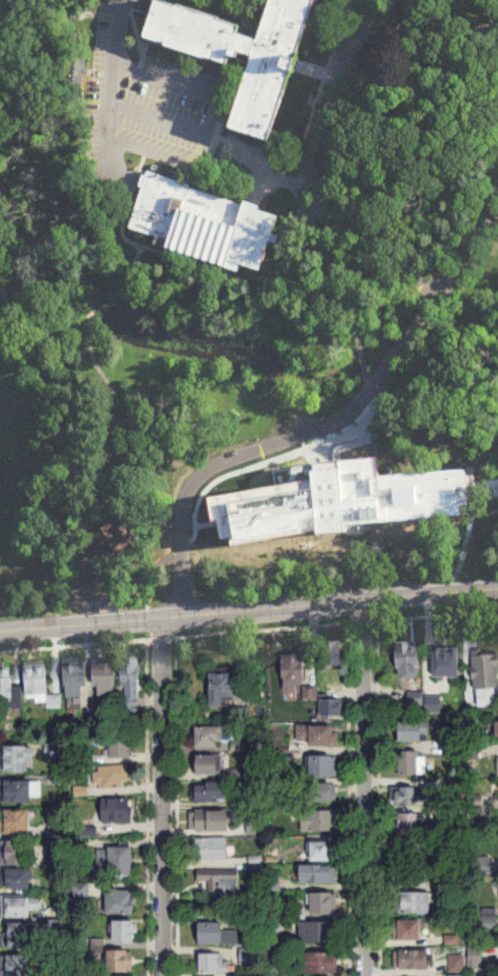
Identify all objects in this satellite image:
road: (395, 29)
building: (76, 69)
road: (110, 70)
building: (275, 70)
road: (332, 84)
road: (182, 87)
road: (208, 136)
building: (207, 222)
road: (372, 236)
road: (449, 281)
park: (28, 315)
road: (383, 373)
road: (325, 490)
building: (416, 491)
road: (263, 494)
road: (141, 578)
road: (88, 588)
road: (45, 606)
road: (249, 613)
building: (331, 654)
building: (408, 661)
building: (294, 669)
building: (108, 680)
building: (486, 680)
building: (76, 681)
building: (41, 687)
building: (131, 687)
building: (221, 688)
building: (10, 690)
building: (335, 700)
building: (497, 725)
building: (415, 731)
building: (315, 736)
building: (210, 737)
building: (120, 747)
building: (52, 750)
building: (19, 758)
building: (410, 762)
building: (210, 765)
building: (497, 765)
building: (323, 766)
building: (112, 777)
road: (363, 789)
building: (20, 791)
building: (212, 791)
building: (322, 792)
building: (409, 795)
road: (163, 798)
building: (117, 810)
building: (458, 816)
building: (210, 820)
building: (321, 821)
building: (17, 822)
building: (409, 822)
building: (211, 848)
building: (410, 848)
building: (323, 851)
building: (17, 852)
building: (121, 861)
building: (484, 864)
building: (318, 874)
building: (410, 875)
building: (16, 879)
building: (220, 882)
building: (122, 901)
building: (415, 902)
building: (322, 904)
building: (19, 906)
building: (489, 918)
building: (408, 930)
building: (125, 931)
building: (319, 932)
building: (19, 935)
building: (411, 959)
building: (121, 961)
building: (321, 962)
building: (213, 963)
building: (457, 964)
building: (18, 965)
building: (457, 975)

